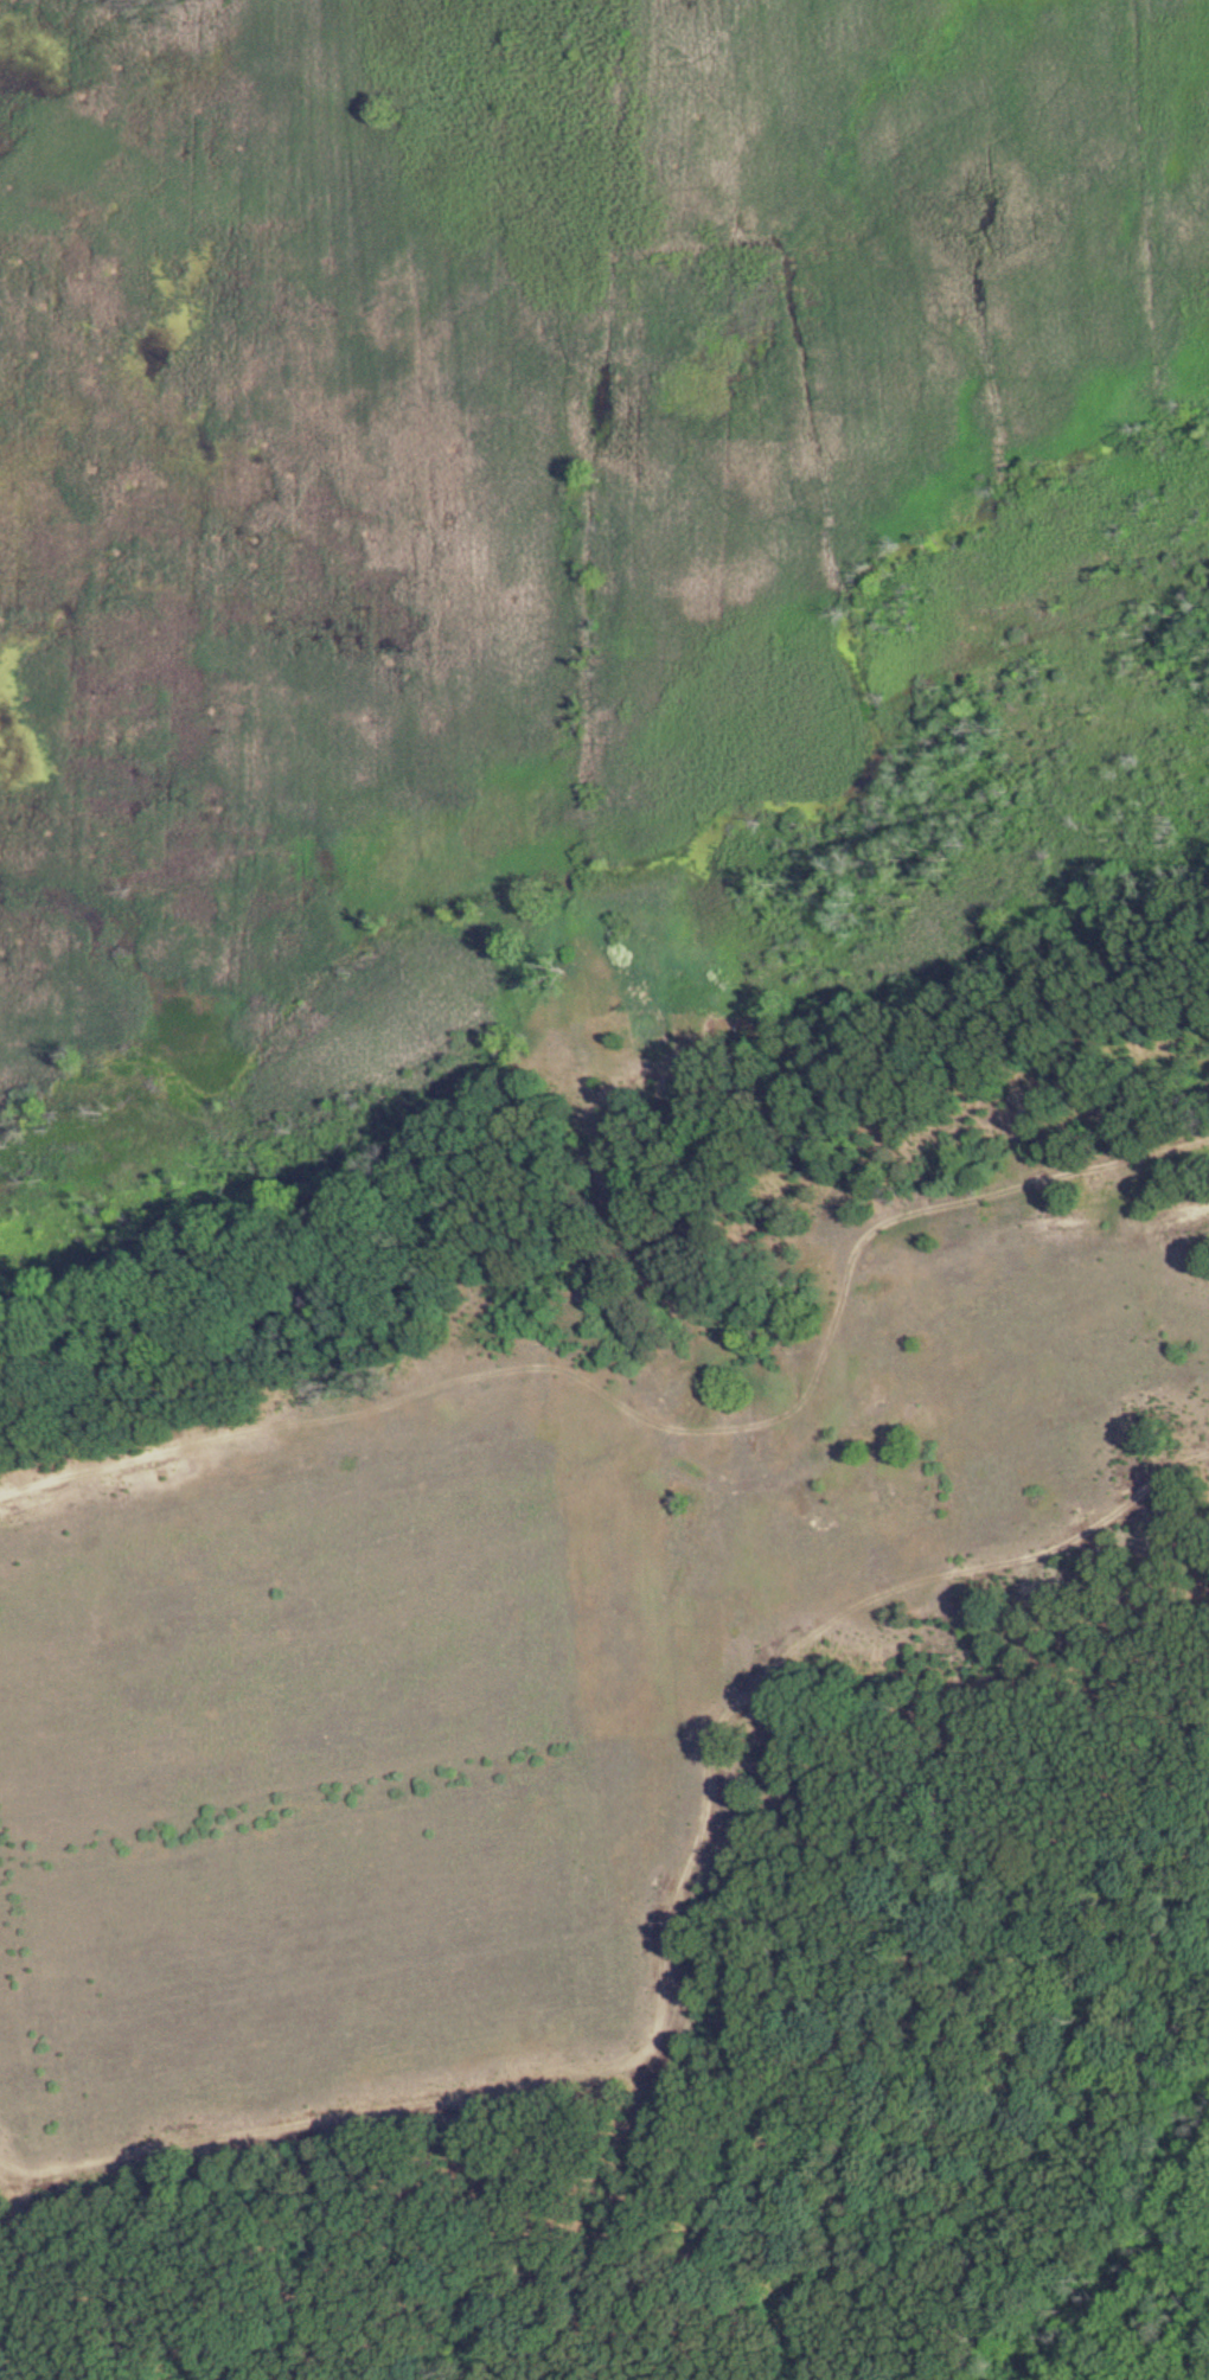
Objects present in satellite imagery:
road: (1019, 2180)

